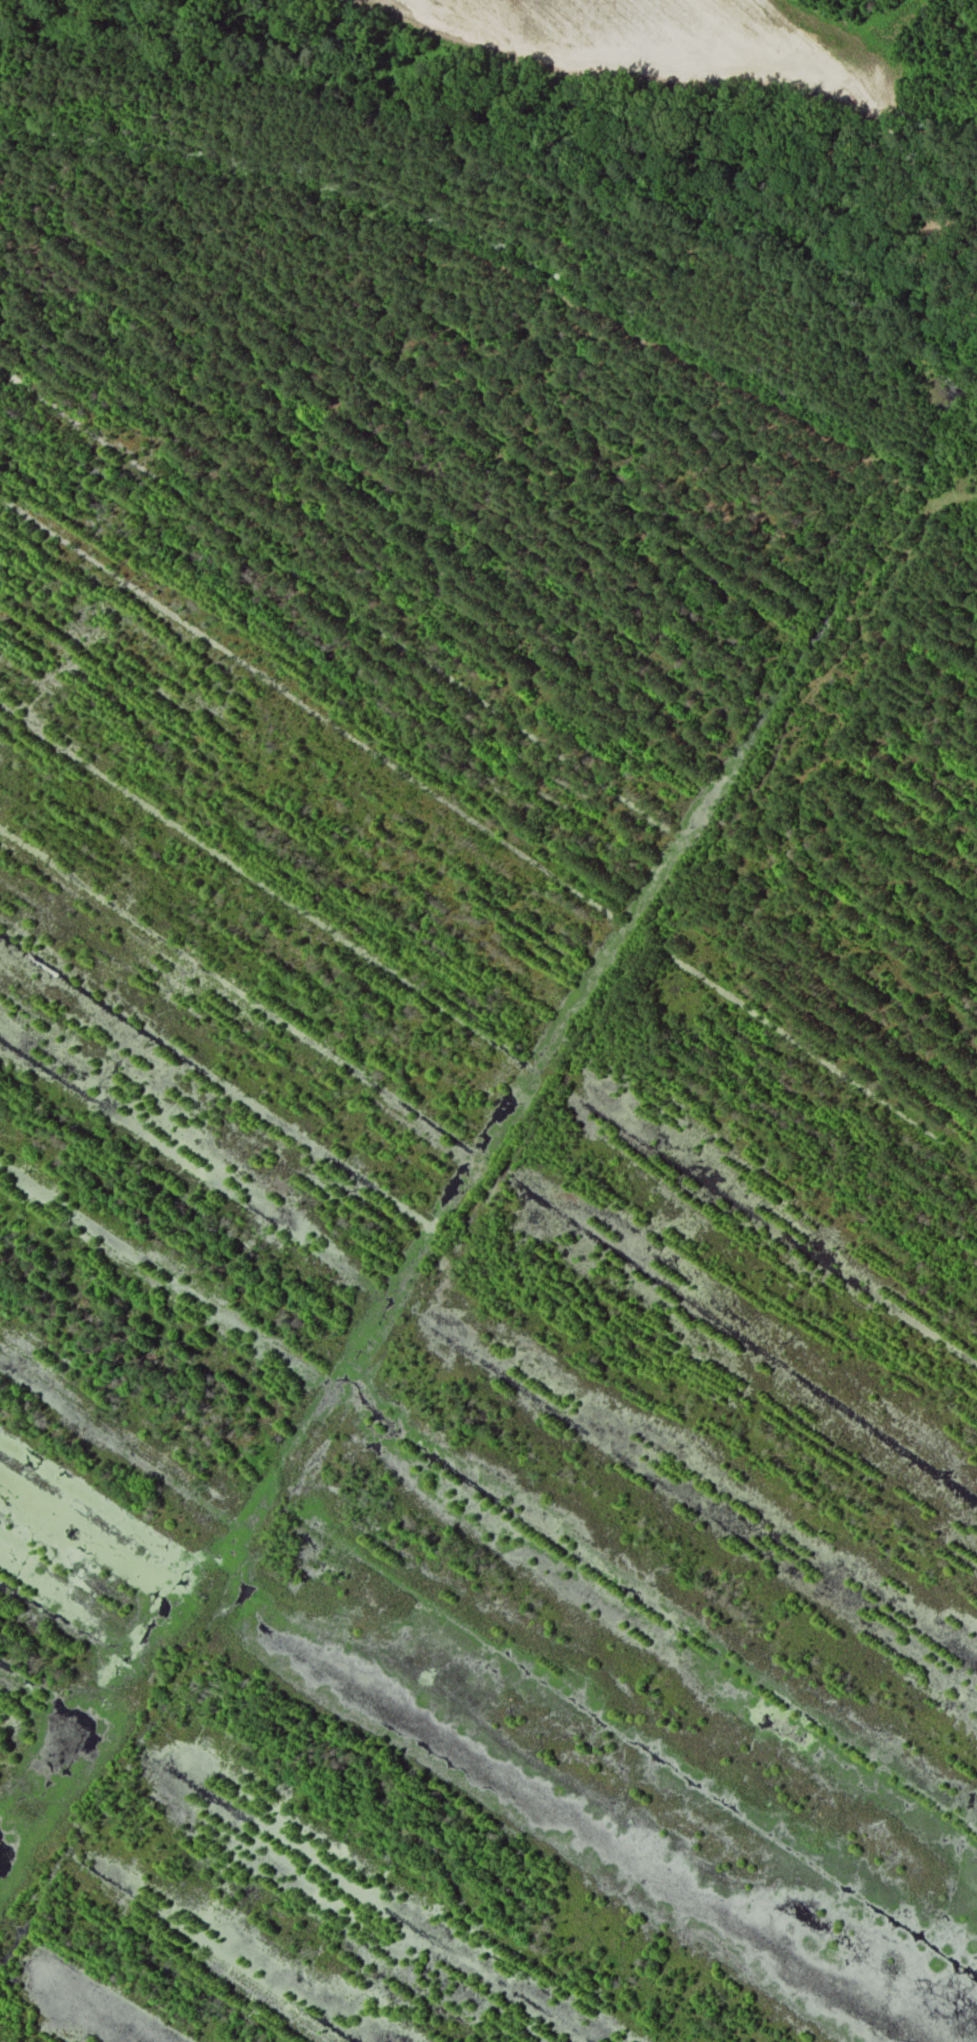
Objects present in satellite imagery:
road: (806, 18)
building: (971, 446)

